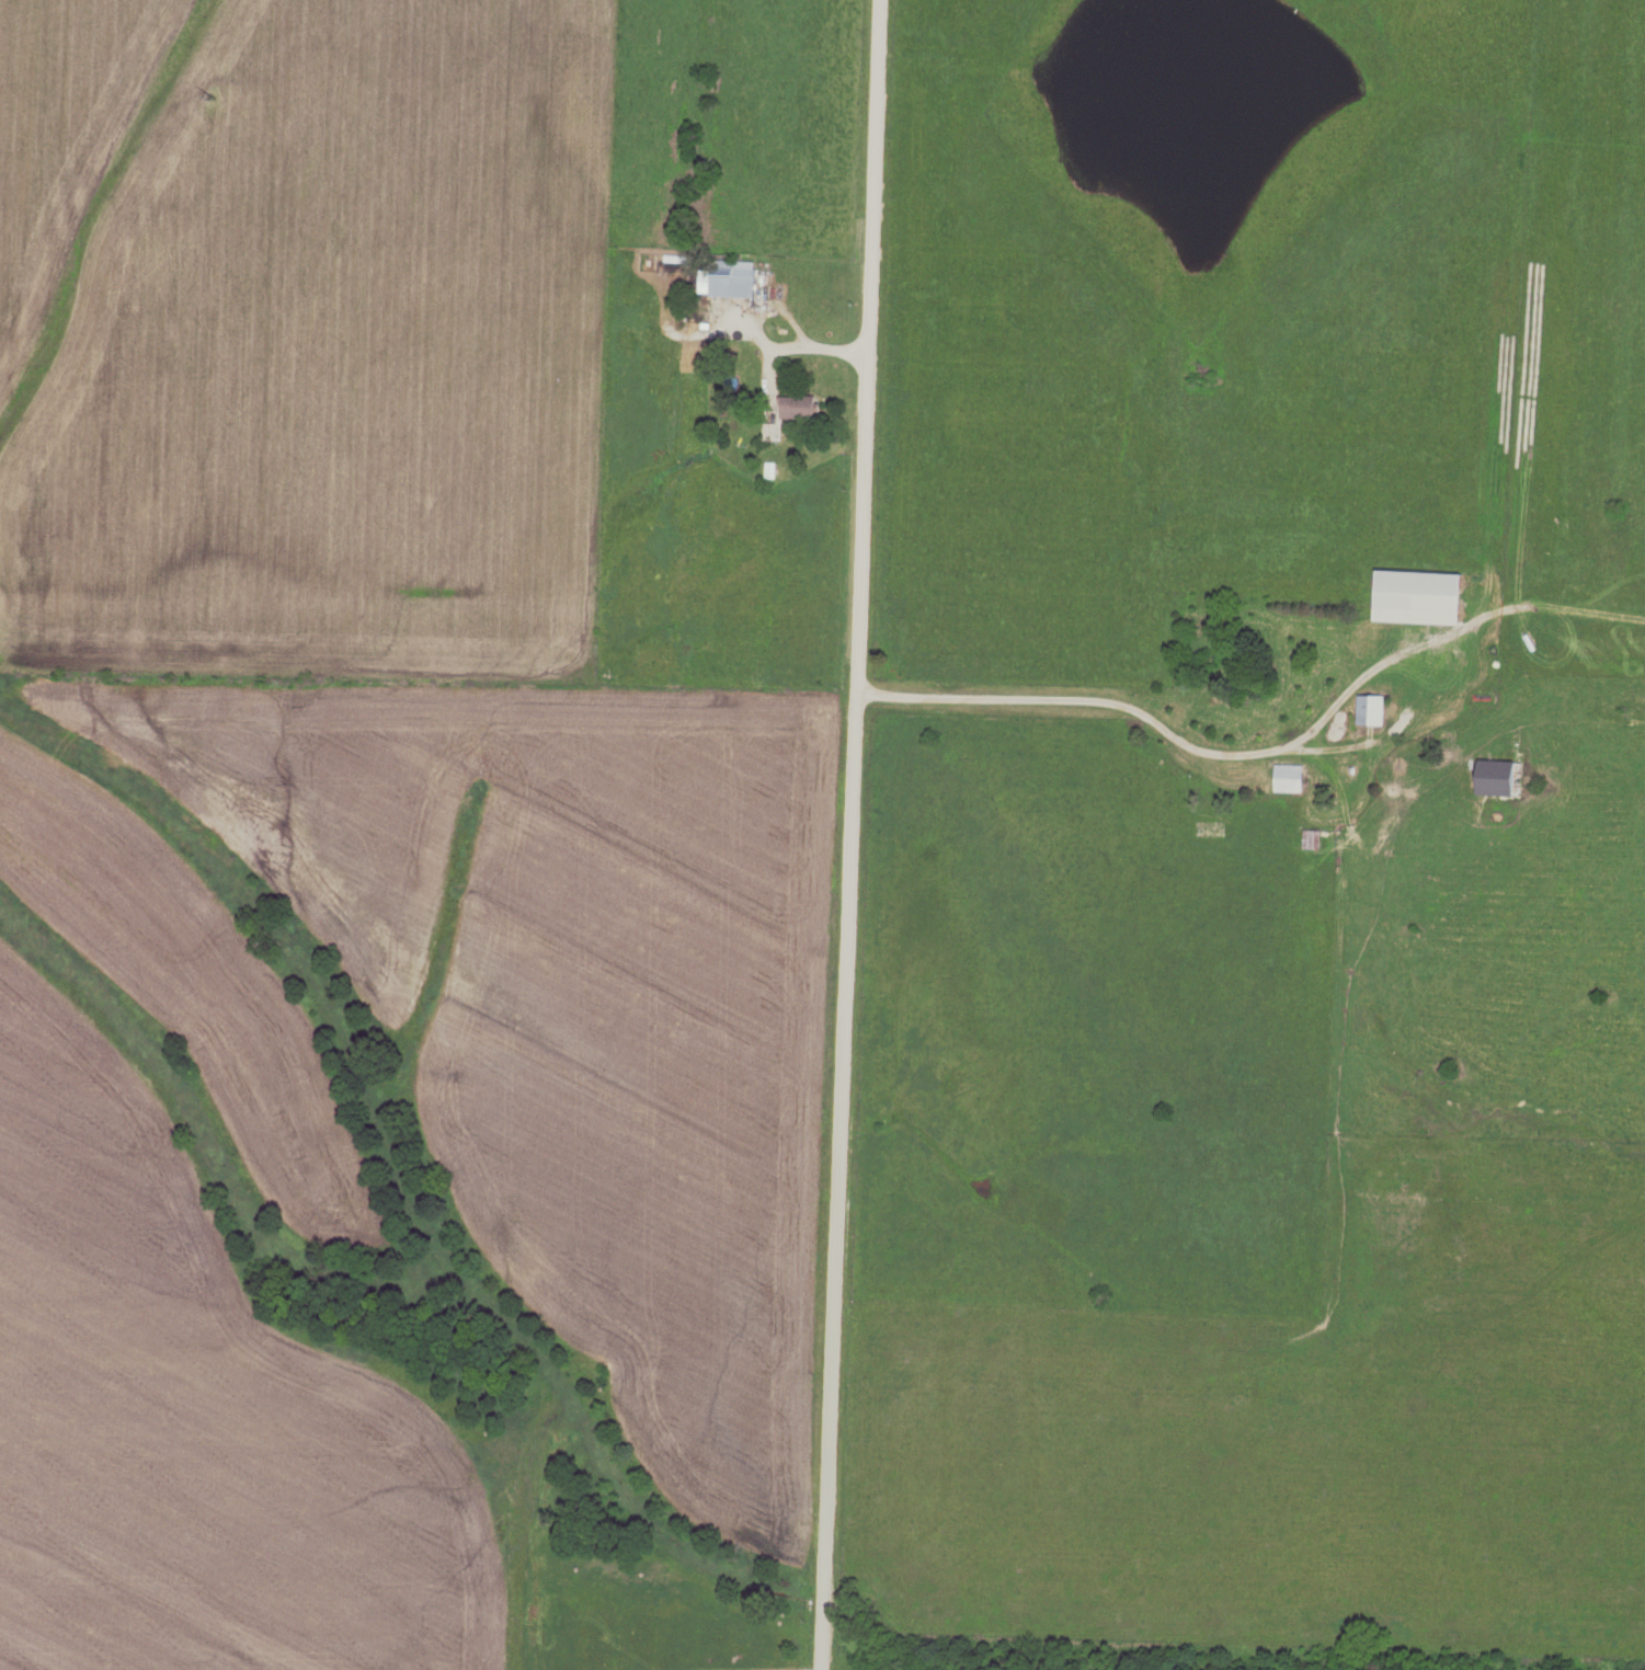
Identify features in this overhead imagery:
building: (731, 279)
road: (759, 336)
building: (798, 408)
building: (1417, 598)
road: (1064, 698)
building: (1369, 711)
building: (1287, 779)
building: (1497, 779)
road: (839, 834)
building: (1310, 840)

